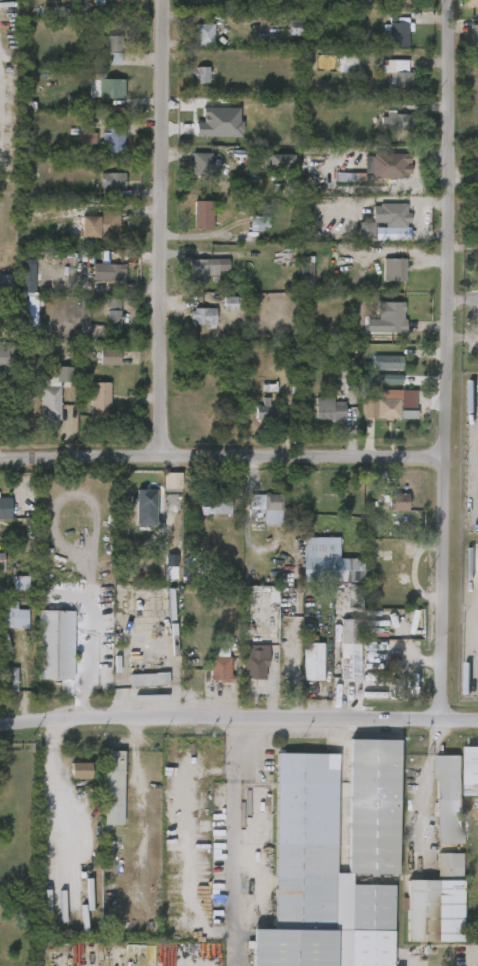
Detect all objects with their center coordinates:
building: (401, 1)
building: (110, 2)
building: (473, 4)
building: (398, 31)
building: (203, 34)
building: (475, 38)
building: (110, 48)
building: (347, 62)
building: (401, 74)
building: (200, 75)
building: (111, 79)
building: (397, 121)
building: (219, 123)
building: (87, 138)
building: (112, 140)
building: (280, 161)
building: (200, 165)
building: (390, 165)
building: (345, 177)
building: (110, 180)
building: (306, 211)
building: (202, 214)
road: (416, 214)
building: (393, 215)
building: (258, 222)
building: (100, 225)
road: (161, 228)
building: (109, 267)
building: (204, 268)
building: (393, 269)
building: (26, 278)
building: (232, 302)
building: (28, 309)
building: (202, 316)
building: (112, 317)
building: (391, 317)
building: (117, 356)
road: (449, 360)
building: (386, 361)
building: (391, 379)
building: (52, 392)
building: (99, 397)
building: (394, 402)
building: (328, 409)
road: (223, 455)
building: (172, 481)
building: (341, 501)
building: (398, 502)
building: (144, 503)
building: (214, 504)
building: (4, 508)
building: (263, 508)
building: (394, 558)
building: (1, 560)
building: (327, 561)
building: (19, 583)
building: (272, 594)
building: (353, 595)
building: (248, 603)
road: (89, 613)
building: (13, 616)
building: (53, 644)
building: (349, 649)
building: (312, 659)
building: (220, 662)
building: (254, 662)
building: (8, 679)
building: (147, 680)
road: (238, 720)
building: (79, 770)
building: (471, 771)
building: (112, 787)
road: (419, 791)
building: (448, 800)
building: (373, 806)
road: (230, 842)
building: (107, 854)
building: (317, 880)
building: (437, 902)

